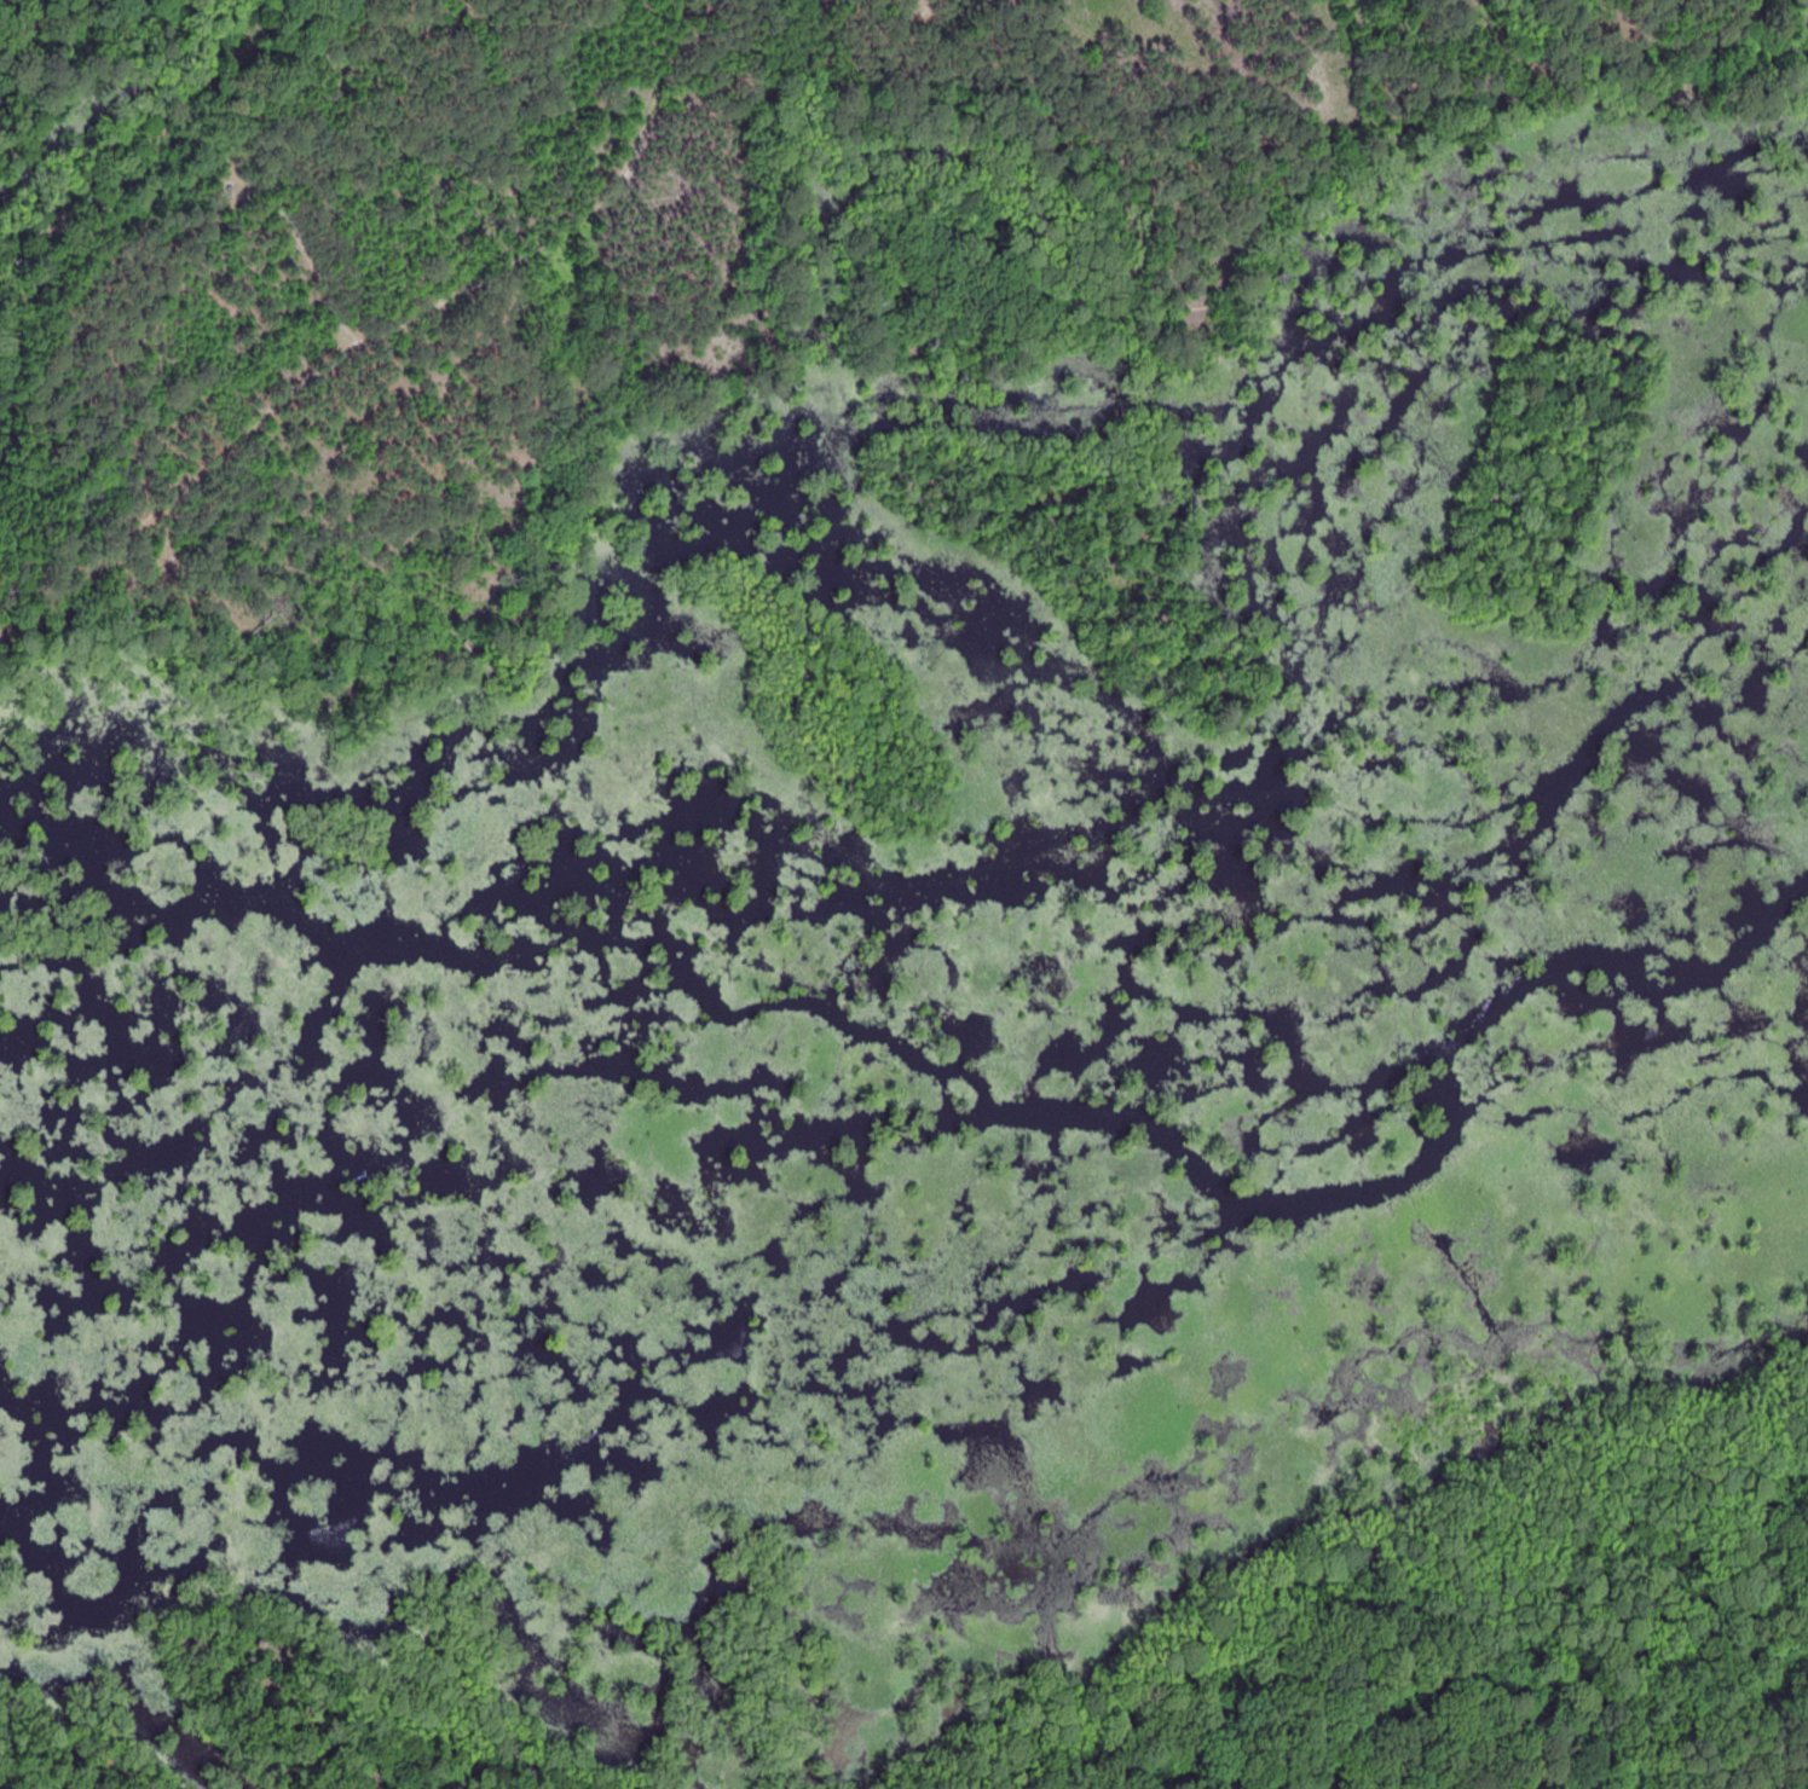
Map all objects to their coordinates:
road: (106, 33)
road: (50, 62)
road: (134, 93)
building: (225, 192)
road: (281, 222)
road: (414, 318)
park: (903, 894)

